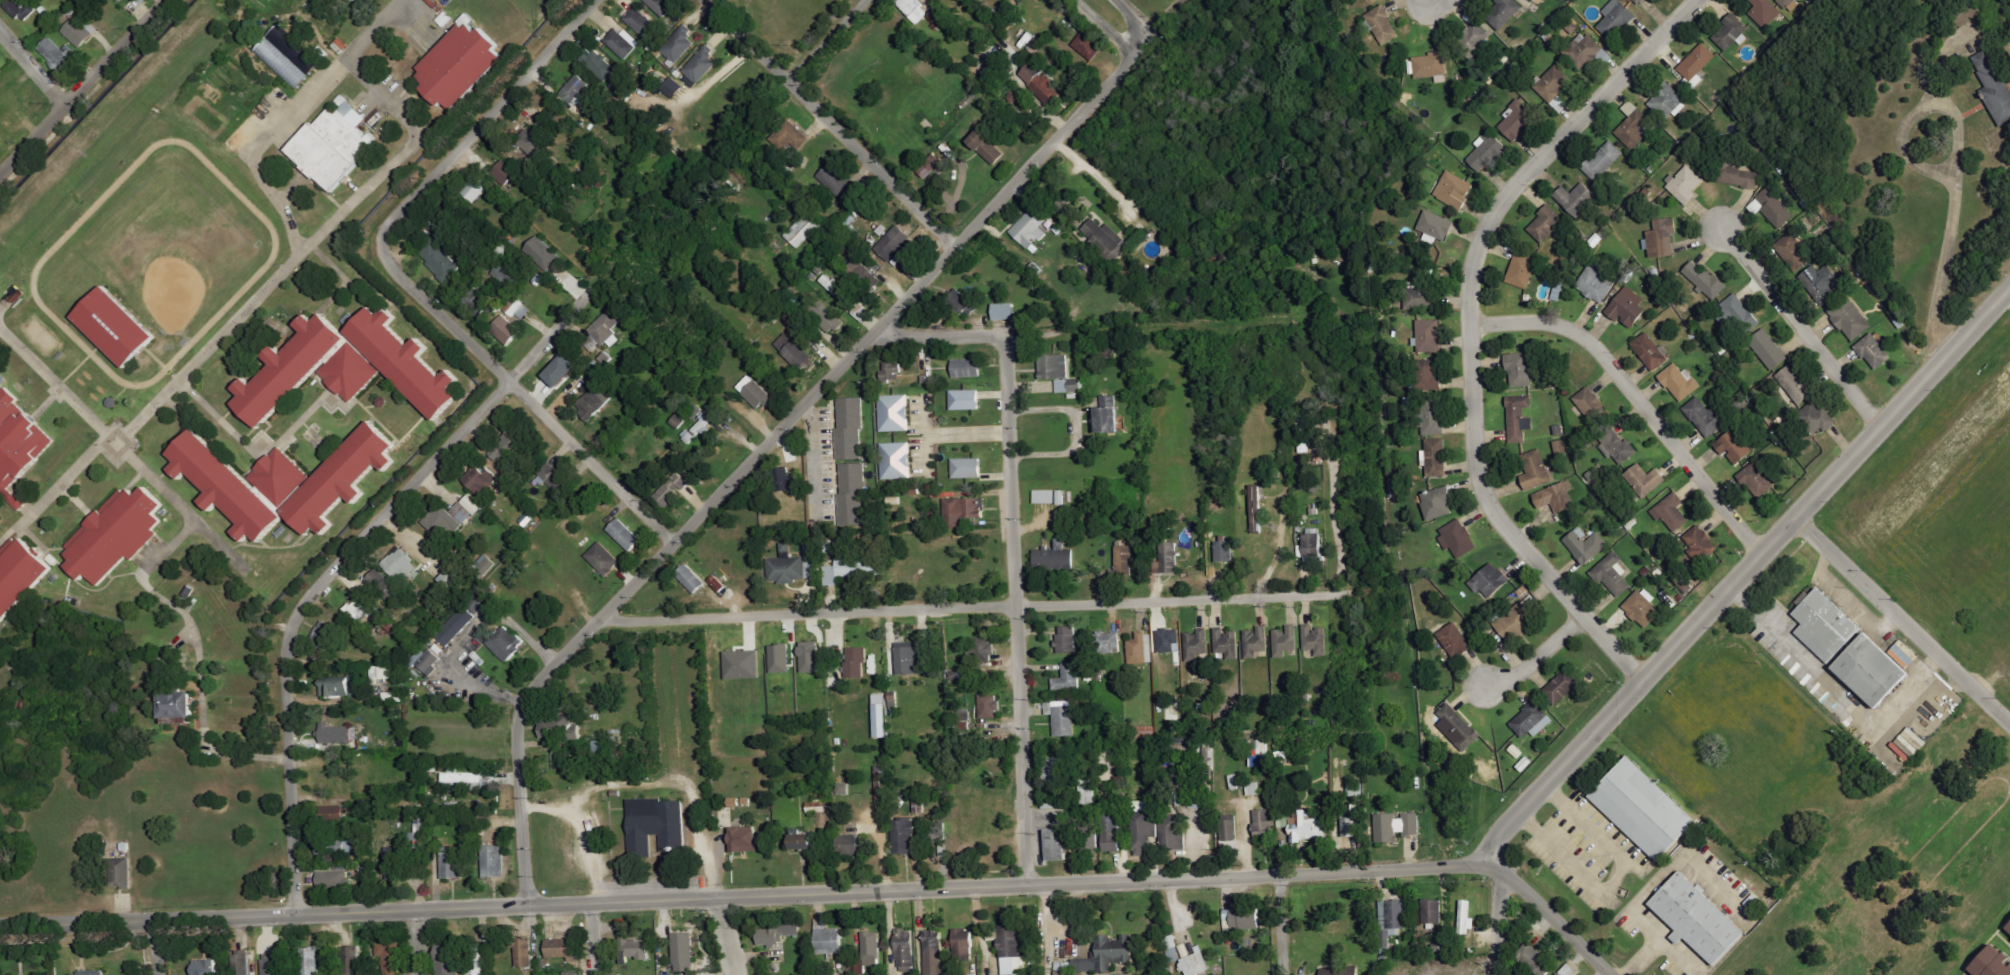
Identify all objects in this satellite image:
building: (354, 0)
building: (123, 1)
road: (1430, 1)
building: (1533, 1)
building: (1639, 1)
building: (1786, 3)
building: (661, 6)
building: (18, 7)
building: (40, 7)
building: (912, 9)
building: (1501, 11)
building: (1765, 12)
building: (936, 15)
building: (638, 19)
building: (1617, 19)
building: (1379, 21)
road: (1134, 24)
road: (1105, 27)
road: (374, 28)
building: (75, 29)
building: (1730, 32)
building: (1023, 38)
road: (826, 40)
building: (1472, 40)
building: (678, 41)
building: (618, 42)
building: (584, 44)
building: (1034, 45)
building: (651, 46)
building: (1088, 47)
building: (292, 48)
building: (1585, 52)
building: (56, 53)
building: (279, 61)
building: (457, 62)
building: (700, 62)
building: (600, 64)
building: (1429, 66)
road: (31, 67)
building: (1045, 81)
building: (1554, 84)
road: (81, 85)
building: (1995, 87)
building: (674, 88)
building: (574, 89)
building: (1668, 103)
building: (1629, 108)
building: (348, 109)
road: (482, 120)
building: (1518, 121)
road: (830, 123)
building: (1636, 130)
building: (791, 133)
building: (532, 140)
road: (260, 144)
building: (983, 145)
building: (328, 146)
building: (1488, 151)
road: (1962, 157)
building: (1603, 161)
building: (502, 170)
building: (924, 170)
building: (1743, 178)
building: (590, 179)
building: (833, 179)
building: (1686, 184)
building: (474, 185)
building: (1455, 191)
building: (1577, 198)
building: (1775, 207)
building: (849, 217)
building: (432, 222)
building: (1547, 225)
building: (1030, 226)
building: (1437, 226)
building: (801, 227)
building: (1056, 227)
building: (878, 228)
building: (1105, 238)
building: (1663, 238)
building: (890, 241)
building: (499, 249)
building: (1794, 249)
building: (1015, 253)
building: (544, 254)
building: (896, 258)
building: (438, 260)
building: (863, 271)
building: (1524, 271)
building: (503, 274)
building: (535, 278)
building: (1705, 279)
building: (1596, 285)
building: (1819, 286)
building: (1422, 296)
building: (843, 297)
building: (959, 300)
building: (477, 303)
building: (514, 306)
road: (245, 307)
building: (1628, 307)
building: (1002, 310)
building: (1737, 314)
building: (1850, 318)
building: (829, 319)
road: (1069, 322)
building: (112, 324)
building: (605, 326)
road: (1469, 326)
building: (503, 327)
road: (1800, 327)
road: (941, 336)
building: (1430, 336)
building: (792, 350)
building: (1768, 350)
building: (1651, 351)
building: (1874, 352)
building: (603, 356)
building: (402, 360)
building: (561, 361)
building: (1051, 365)
building: (287, 366)
building: (964, 366)
building: (347, 367)
building: (592, 367)
building: (1522, 368)
building: (743, 369)
building: (888, 369)
building: (564, 371)
building: (1433, 376)
building: (913, 379)
building: (1680, 382)
building: (1066, 384)
building: (1796, 384)
building: (753, 391)
building: (1070, 395)
road: (1637, 396)
road: (525, 397)
building: (962, 397)
building: (590, 399)
building: (1590, 403)
building: (692, 411)
building: (892, 411)
road: (920, 414)
building: (1104, 414)
building: (1434, 416)
building: (1707, 417)
building: (1817, 417)
building: (1519, 418)
building: (675, 420)
building: (847, 426)
building: (695, 427)
road: (949, 429)
building: (16, 445)
building: (505, 446)
building: (1617, 446)
building: (1735, 447)
building: (1561, 448)
road: (758, 453)
building: (1436, 456)
building: (894, 459)
building: (965, 466)
building: (1536, 470)
building: (282, 476)
building: (552, 478)
building: (784, 478)
building: (345, 479)
building: (482, 480)
building: (1646, 480)
building: (1757, 481)
road: (54, 487)
building: (228, 488)
building: (909, 488)
building: (669, 489)
building: (850, 492)
building: (942, 493)
building: (1042, 494)
building: (1058, 495)
building: (1557, 497)
building: (891, 499)
building: (1439, 503)
building: (959, 508)
building: (1258, 509)
building: (1671, 512)
building: (451, 516)
building: (118, 535)
building: (625, 535)
building: (1458, 538)
building: (1701, 543)
building: (783, 545)
building: (1586, 546)
building: (1313, 547)
building: (1226, 552)
building: (1052, 555)
building: (1171, 558)
road: (339, 559)
building: (604, 559)
building: (810, 560)
building: (1125, 560)
building: (400, 564)
building: (485, 565)
building: (853, 565)
building: (784, 568)
road: (1740, 573)
building: (20, 575)
building: (1614, 575)
building: (688, 577)
building: (451, 578)
building: (1491, 581)
building: (715, 582)
building: (1532, 603)
building: (359, 606)
road: (975, 607)
building: (1643, 608)
road: (1017, 609)
road: (1903, 619)
building: (1516, 622)
building: (455, 626)
building: (1827, 626)
building: (326, 635)
building: (1068, 640)
building: (1316, 640)
building: (1170, 641)
building: (1456, 641)
building: (1256, 642)
building: (1285, 642)
building: (507, 643)
building: (1108, 643)
building: (1227, 643)
building: (982, 645)
building: (1197, 646)
building: (1141, 649)
road: (1537, 656)
building: (812, 657)
building: (781, 659)
building: (910, 659)
building: (427, 660)
building: (855, 662)
building: (744, 665)
building: (1875, 671)
building: (1068, 678)
building: (1565, 685)
building: (341, 687)
building: (395, 697)
building: (181, 705)
building: (990, 707)
building: (881, 716)
building: (1062, 718)
building: (1533, 721)
building: (965, 723)
building: (562, 726)
building: (1459, 728)
building: (1143, 732)
building: (337, 736)
building: (602, 750)
building: (1259, 753)
building: (1052, 770)
building: (467, 781)
building: (1233, 782)
building: (884, 787)
building: (1254, 789)
building: (1088, 790)
building: (1355, 790)
building: (1190, 801)
building: (821, 807)
building: (1646, 809)
building: (657, 825)
building: (1266, 825)
building: (1308, 827)
building: (1349, 827)
building: (1397, 827)
building: (1112, 830)
building: (1230, 831)
road: (581, 832)
building: (1146, 832)
building: (1174, 833)
building: (905, 837)
building: (1090, 837)
building: (808, 839)
building: (748, 840)
building: (1060, 845)
building: (854, 846)
building: (326, 847)
building: (495, 862)
building: (453, 863)
building: (121, 873)
building: (335, 881)
road: (1017, 886)
building: (1433, 912)
road: (263, 915)
building: (1397, 918)
building: (1466, 918)
building: (1247, 919)
building: (1700, 920)
road: (1279, 924)
road: (1558, 924)
road: (1499, 925)
building: (2006, 927)
building: (780, 934)
road: (727, 936)
building: (829, 938)
road: (591, 939)
road: (415, 943)
building: (964, 945)
road: (155, 947)
building: (905, 948)
building: (564, 949)
building: (871, 949)
building: (634, 950)
building: (1012, 950)
building: (523, 952)
building: (686, 953)
building: (933, 953)
building: (391, 956)
building: (1108, 956)
building: (478, 959)
building: (354, 960)
building: (449, 960)
building: (1534, 960)
building: (310, 961)
building: (1987, 962)
building: (242, 963)
building: (1196, 964)
building: (272, 965)
building: (207, 967)
building: (1063, 968)
building: (1343, 971)
building: (1567, 971)
building: (100, 973)
building: (571, 973)

